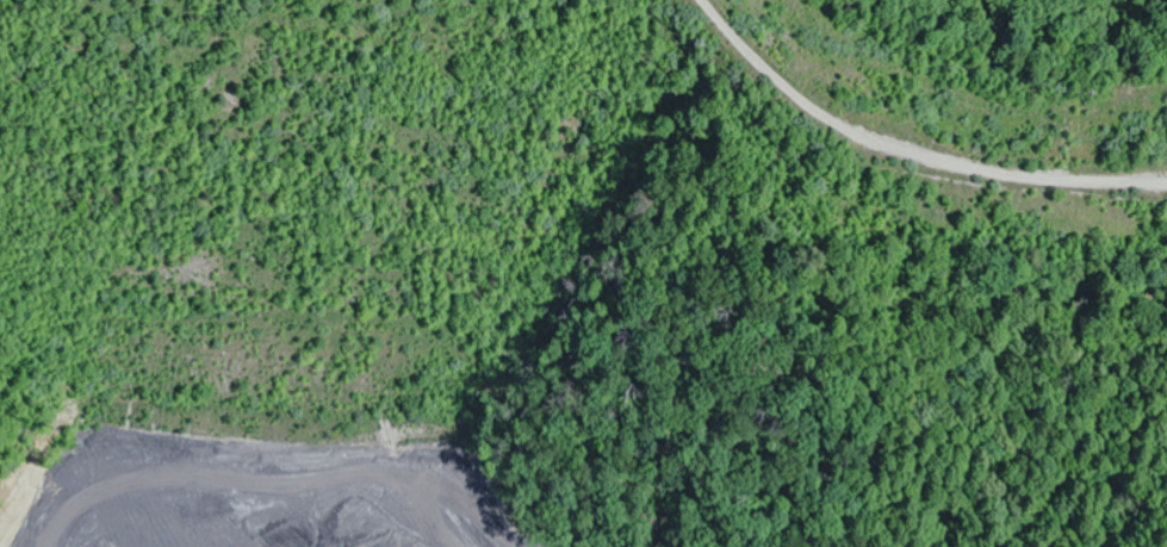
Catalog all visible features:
road: (805, 222)

